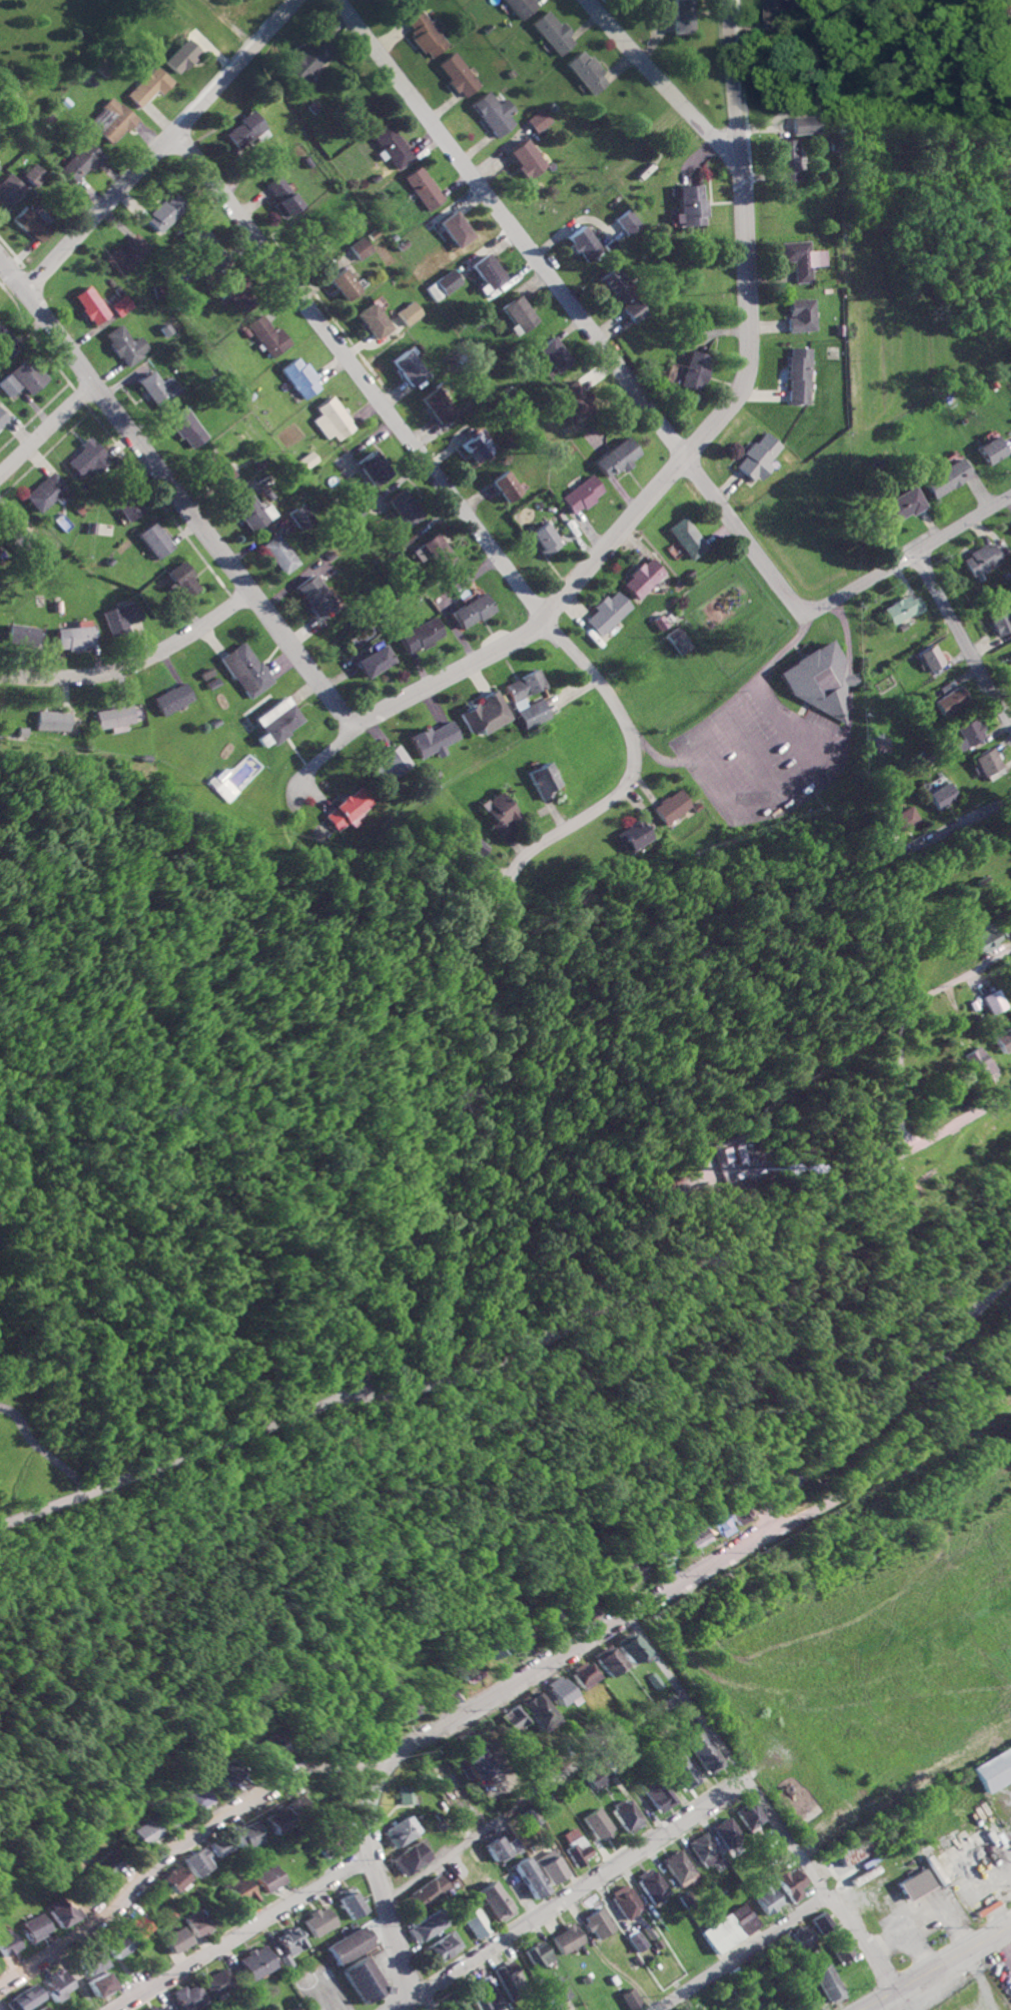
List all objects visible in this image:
building: (520, 6)
building: (777, 12)
building: (680, 16)
road: (227, 22)
building: (424, 32)
building: (551, 32)
building: (179, 55)
building: (304, 62)
building: (586, 71)
building: (457, 74)
building: (146, 82)
road: (661, 88)
building: (492, 113)
building: (109, 120)
building: (538, 120)
building: (805, 125)
building: (241, 130)
road: (158, 146)
building: (390, 146)
building: (525, 159)
building: (780, 160)
building: (79, 161)
building: (32, 174)
building: (421, 188)
building: (9, 189)
building: (280, 197)
building: (686, 206)
building: (163, 213)
building: (625, 222)
building: (31, 224)
building: (453, 229)
building: (308, 236)
building: (580, 243)
building: (358, 248)
building: (207, 250)
building: (126, 254)
building: (799, 258)
building: (485, 271)
building: (342, 284)
building: (441, 284)
building: (238, 294)
building: (618, 295)
building: (90, 305)
building: (120, 305)
road: (568, 306)
building: (408, 313)
building: (516, 313)
building: (800, 315)
building: (371, 321)
building: (267, 336)
building: (6, 343)
building: (125, 345)
building: (549, 354)
building: (406, 368)
building: (691, 371)
building: (27, 375)
building: (796, 375)
building: (299, 378)
building: (8, 384)
building: (156, 389)
building: (436, 405)
building: (1, 417)
building: (330, 420)
building: (183, 427)
road: (45, 428)
building: (475, 447)
building: (992, 450)
building: (85, 457)
building: (757, 457)
building: (614, 458)
building: (305, 460)
building: (215, 468)
building: (371, 468)
road: (666, 476)
building: (945, 478)
building: (502, 486)
building: (45, 492)
building: (579, 494)
road: (173, 495)
building: (127, 506)
building: (900, 506)
building: (402, 507)
building: (246, 511)
building: (299, 517)
road: (468, 518)
building: (15, 526)
building: (686, 538)
building: (541, 539)
building: (153, 540)
building: (435, 552)
building: (276, 554)
road: (909, 556)
building: (980, 559)
building: (643, 578)
building: (180, 580)
building: (311, 595)
building: (899, 609)
building: (469, 611)
building: (606, 613)
park: (733, 615)
building: (118, 619)
building: (659, 622)
building: (999, 622)
building: (19, 633)
building: (416, 635)
building: (73, 636)
building: (678, 640)
road: (963, 640)
building: (928, 658)
building: (1009, 660)
building: (370, 661)
road: (133, 665)
road: (768, 667)
building: (244, 670)
building: (205, 673)
building: (818, 681)
building: (211, 683)
building: (944, 686)
road: (848, 693)
building: (171, 698)
building: (948, 700)
building: (516, 701)
building: (483, 714)
building: (112, 718)
building: (276, 720)
building: (50, 721)
building: (963, 734)
building: (431, 740)
building: (878, 744)
parking lot: (761, 755)
building: (985, 764)
building: (388, 765)
road: (727, 775)
building: (541, 780)
building: (937, 796)
building: (670, 806)
building: (347, 809)
building: (497, 813)
building: (898, 820)
road: (962, 822)
building: (629, 836)
building: (465, 847)
building: (1003, 925)
building: (979, 938)
building: (990, 1001)
road: (898, 1019)
building: (1003, 1040)
building: (975, 1063)
road: (955, 1123)
building: (722, 1154)
building: (736, 1154)
road: (620, 1251)
park: (189, 1277)
road: (636, 1298)
road: (385, 1327)
road: (880, 1406)
road: (42, 1451)
building: (746, 1512)
building: (725, 1523)
building: (699, 1536)
building: (667, 1550)
building: (639, 1569)
building: (554, 1613)
building: (525, 1628)
road: (597, 1638)
building: (633, 1646)
building: (499, 1649)
building: (611, 1660)
building: (474, 1670)
building: (587, 1675)
building: (562, 1691)
building: (403, 1707)
building: (539, 1710)
building: (514, 1718)
building: (278, 1747)
building: (704, 1751)
building: (475, 1757)
building: (680, 1769)
building: (993, 1769)
building: (236, 1772)
building: (596, 1776)
building: (657, 1792)
building: (408, 1794)
road: (535, 1798)
building: (204, 1799)
building: (296, 1804)
road: (763, 1805)
building: (626, 1815)
building: (749, 1815)
building: (278, 1819)
building: (178, 1820)
building: (597, 1824)
building: (401, 1831)
building: (152, 1832)
building: (726, 1832)
building: (249, 1835)
road: (186, 1844)
building: (335, 1844)
building: (223, 1845)
building: (498, 1847)
building: (575, 1847)
building: (703, 1850)
building: (850, 1853)
building: (409, 1859)
building: (200, 1862)
building: (113, 1866)
building: (548, 1866)
building: (677, 1866)
building: (529, 1877)
building: (177, 1878)
building: (273, 1878)
building: (467, 1878)
building: (789, 1882)
building: (651, 1885)
building: (914, 1885)
building: (244, 1892)
building: (425, 1892)
road: (570, 1895)
building: (767, 1900)
building: (495, 1901)
building: (625, 1901)
building: (352, 1903)
building: (68, 1914)
building: (320, 1921)
building: (820, 1921)
building: (199, 1923)
building: (597, 1923)
building: (475, 1924)
building: (140, 1925)
building: (39, 1926)
building: (424, 1927)
building: (728, 1928)
road: (247, 1935)
building: (801, 1936)
building: (566, 1939)
building: (179, 1940)
building: (10, 1941)
building: (292, 1941)
building: (637, 1941)
building: (119, 1944)
building: (350, 1945)
road: (1004, 1946)
building: (440, 1948)
building: (842, 1949)
road: (741, 1953)
building: (537, 1954)
building: (285, 1961)
building: (92, 1962)
building: (257, 1963)
road: (936, 1968)
building: (506, 1974)
road: (80, 1978)
building: (363, 1979)
building: (218, 1982)
building: (103, 1984)
building: (828, 1984)
building: (59, 1985)
building: (556, 1991)
building: (485, 1994)
building: (191, 1997)
building: (26, 1999)
building: (630, 1999)
road: (424, 2001)
building: (456, 2004)
building: (160, 2007)
building: (46, 2008)

